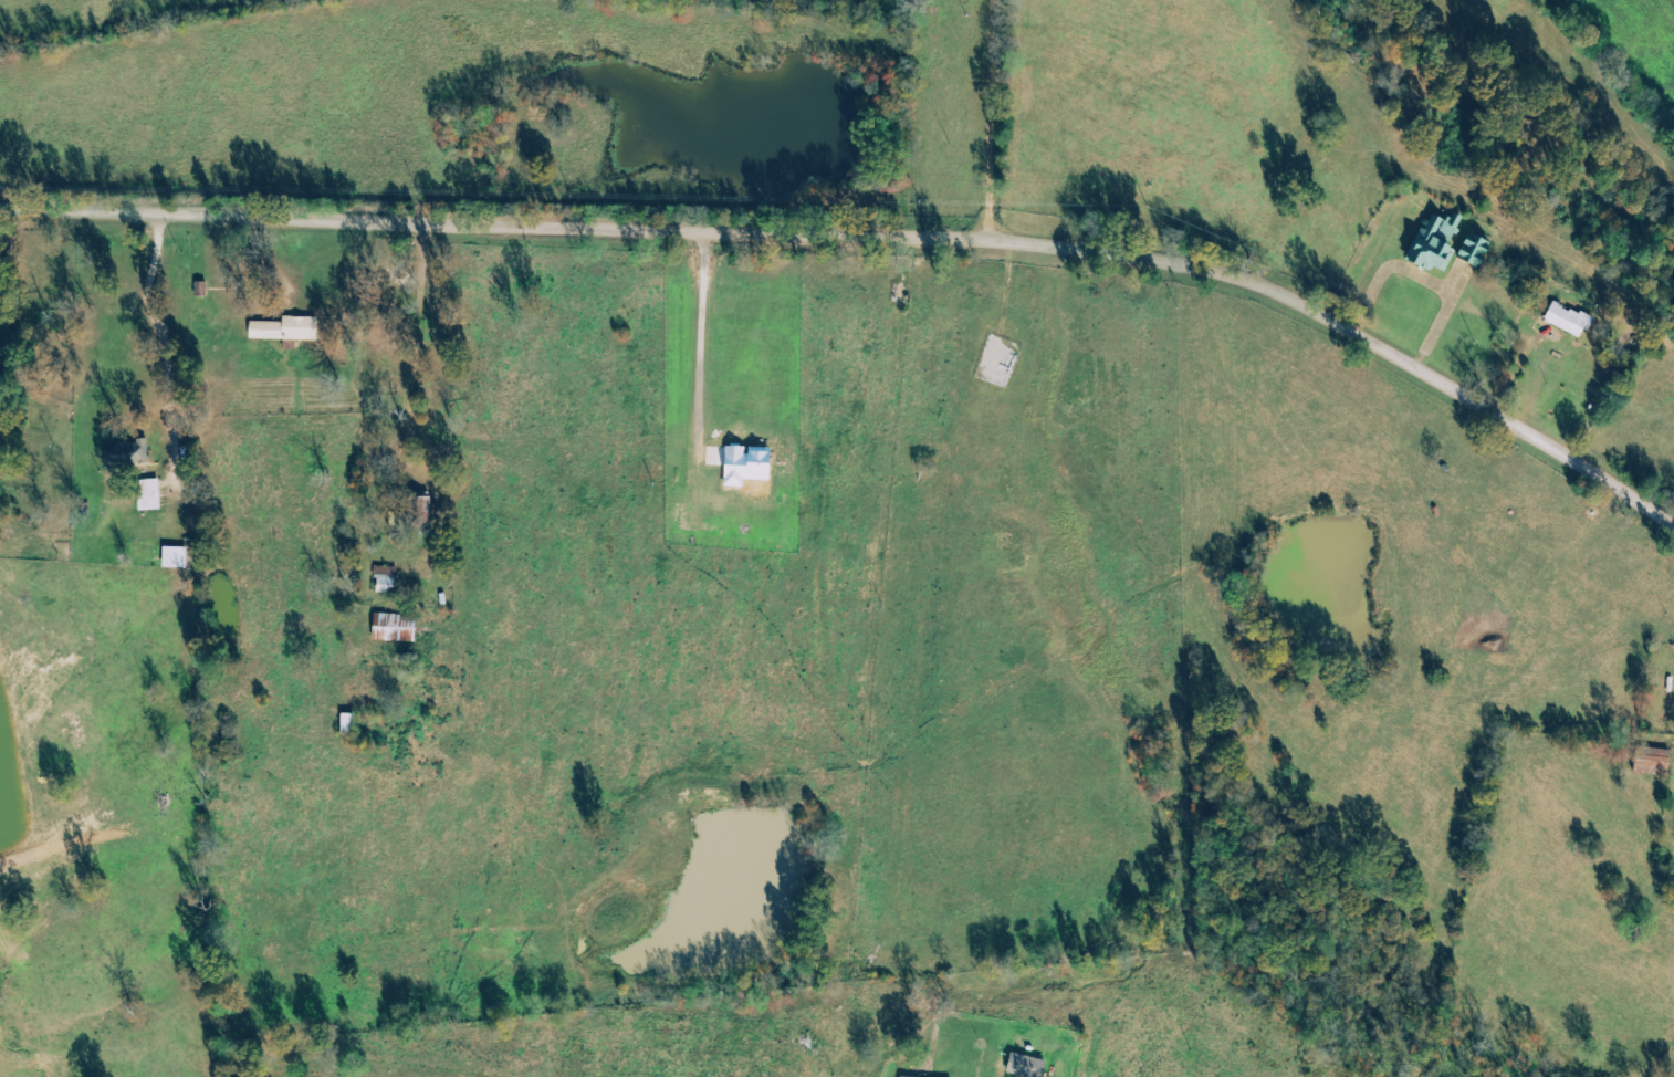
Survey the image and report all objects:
building: (1440, 240)
building: (1481, 249)
road: (870, 255)
building: (1571, 318)
building: (290, 328)
building: (129, 453)
building: (752, 464)
building: (153, 494)
building: (178, 556)
building: (389, 579)
building: (398, 627)
building: (353, 724)
building: (1657, 763)
building: (1028, 1066)

